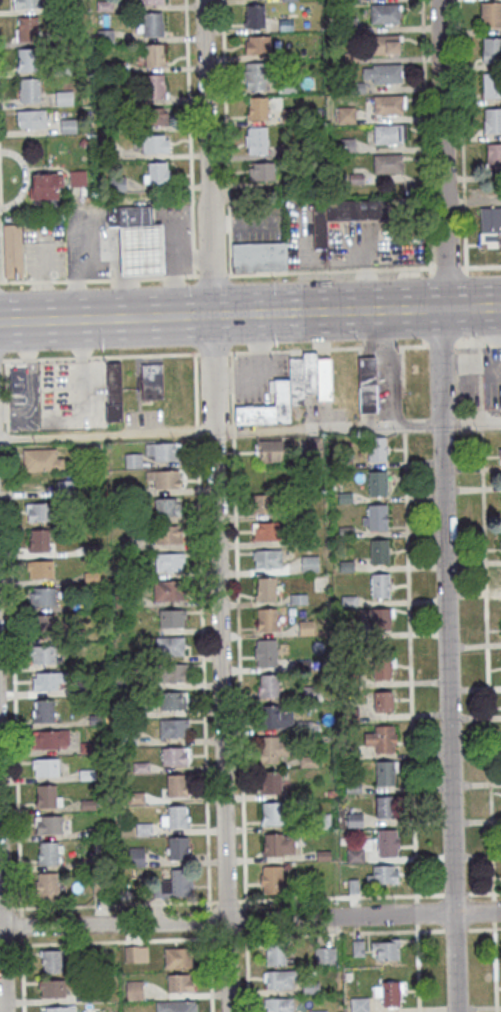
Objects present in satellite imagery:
building: (289, 0)
building: (351, 1)
building: (150, 2)
building: (26, 4)
building: (61, 7)
building: (104, 7)
building: (385, 14)
building: (491, 15)
building: (254, 17)
building: (347, 24)
building: (59, 25)
building: (152, 25)
building: (285, 25)
building: (28, 29)
building: (104, 36)
building: (381, 44)
building: (258, 45)
building: (492, 51)
building: (154, 56)
building: (351, 58)
building: (27, 60)
building: (116, 68)
building: (61, 70)
building: (383, 74)
building: (257, 77)
building: (491, 85)
building: (153, 87)
building: (287, 88)
building: (357, 89)
building: (29, 91)
building: (121, 98)
building: (63, 99)
building: (388, 104)
building: (257, 109)
building: (346, 115)
building: (292, 116)
building: (154, 117)
building: (32, 120)
building: (492, 121)
building: (68, 127)
building: (118, 127)
building: (390, 133)
building: (257, 141)
building: (83, 143)
building: (155, 144)
building: (347, 147)
building: (289, 153)
building: (108, 154)
building: (493, 156)
building: (388, 163)
building: (261, 172)
building: (158, 174)
building: (77, 179)
building: (298, 180)
building: (356, 180)
building: (117, 184)
building: (44, 186)
building: (344, 214)
building: (129, 216)
building: (490, 227)
building: (141, 249)
building: (12, 251)
building: (259, 256)
road: (483, 266)
road: (447, 267)
road: (330, 271)
road: (212, 274)
road: (97, 278)
road: (0, 282)
road: (250, 314)
road: (478, 343)
road: (440, 344)
road: (326, 348)
road: (213, 352)
road: (99, 356)
building: (309, 373)
building: (17, 380)
building: (151, 380)
building: (324, 380)
building: (296, 381)
building: (367, 384)
building: (114, 391)
building: (268, 406)
road: (391, 426)
road: (481, 426)
road: (248, 431)
road: (107, 435)
street lamp: (227, 440)
building: (310, 449)
building: (377, 449)
building: (164, 450)
building: (269, 450)
building: (500, 456)
building: (42, 459)
building: (133, 460)
building: (344, 462)
building: (167, 479)
building: (378, 484)
building: (65, 489)
building: (345, 499)
building: (265, 503)
road: (442, 505)
road: (215, 506)
building: (168, 507)
building: (38, 511)
building: (303, 512)
building: (376, 518)
building: (266, 532)
building: (346, 532)
building: (169, 534)
building: (306, 538)
building: (38, 541)
building: (500, 544)
building: (500, 546)
building: (379, 551)
building: (267, 559)
building: (169, 561)
building: (310, 565)
building: (346, 567)
building: (40, 569)
building: (381, 586)
building: (168, 589)
building: (266, 589)
building: (42, 596)
building: (298, 600)
building: (350, 602)
building: (172, 617)
building: (381, 619)
building: (267, 621)
building: (43, 626)
road: (201, 628)
road: (237, 629)
building: (306, 629)
building: (350, 632)
building: (170, 644)
building: (43, 653)
building: (266, 654)
building: (382, 668)
building: (172, 672)
building: (45, 681)
road: (14, 683)
building: (350, 683)
building: (269, 687)
building: (312, 694)
building: (172, 700)
building: (384, 702)
building: (44, 710)
building: (351, 717)
building: (275, 718)
building: (95, 719)
road: (411, 719)
road: (488, 720)
building: (173, 727)
building: (50, 739)
building: (382, 740)
building: (272, 750)
building: (175, 755)
building: (347, 758)
building: (308, 763)
building: (140, 766)
building: (45, 767)
building: (385, 774)
building: (270, 784)
building: (176, 785)
building: (353, 789)
building: (46, 795)
building: (136, 798)
building: (87, 803)
building: (386, 808)
building: (277, 814)
building: (177, 816)
building: (354, 821)
building: (322, 822)
building: (48, 824)
building: (144, 828)
building: (95, 831)
building: (388, 844)
building: (278, 845)
building: (179, 847)
building: (48, 852)
building: (136, 856)
building: (323, 856)
building: (355, 857)
building: (383, 876)
building: (180, 880)
building: (271, 880)
building: (46, 885)
building: (295, 887)
building: (353, 887)
road: (369, 896)
road: (226, 901)
road: (107, 904)
street lamp: (212, 905)
road: (407, 914)
road: (245, 917)
road: (209, 920)
road: (157, 922)
road: (250, 936)
building: (358, 949)
building: (387, 950)
building: (275, 954)
building: (136, 955)
building: (324, 957)
building: (179, 958)
road: (1, 959)
building: (51, 962)
road: (246, 970)
road: (210, 971)
building: (280, 980)
building: (179, 984)
building: (52, 989)
building: (311, 989)
building: (134, 991)
building: (391, 995)
building: (95, 996)
building: (278, 1005)
building: (360, 1005)
building: (176, 1007)
building: (60, 1009)

